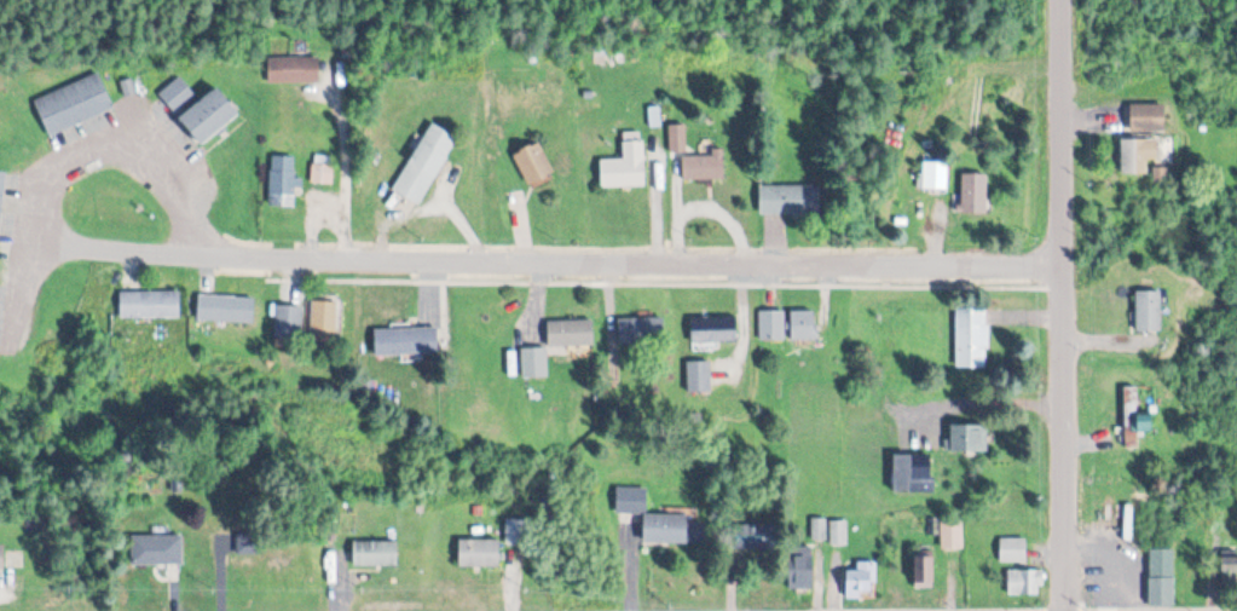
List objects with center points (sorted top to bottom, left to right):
building: (293, 68)
building: (174, 92)
building: (73, 104)
building: (976, 106)
building: (208, 115)
building: (1146, 117)
building: (1133, 155)
building: (424, 163)
building: (532, 163)
building: (625, 165)
building: (704, 166)
building: (320, 174)
building: (933, 175)
building: (282, 180)
building: (1, 185)
building: (973, 194)
building: (785, 198)
road: (541, 259)
building: (149, 304)
road: (1059, 305)
building: (225, 309)
building: (1148, 310)
building: (323, 322)
building: (288, 323)
building: (802, 323)
building: (770, 324)
building: (712, 328)
building: (640, 329)
building: (568, 332)
building: (971, 336)
building: (405, 340)
building: (533, 361)
building: (698, 375)
building: (1133, 416)
building: (976, 437)
building: (912, 472)
building: (630, 498)
building: (663, 528)
building: (838, 531)
building: (950, 532)
building: (753, 535)
building: (156, 548)
building: (1012, 549)
building: (478, 552)
building: (374, 553)
building: (1, 557)
building: (1229, 564)
building: (800, 566)
building: (923, 567)
building: (861, 581)
building: (1024, 581)
building: (1161, 590)

